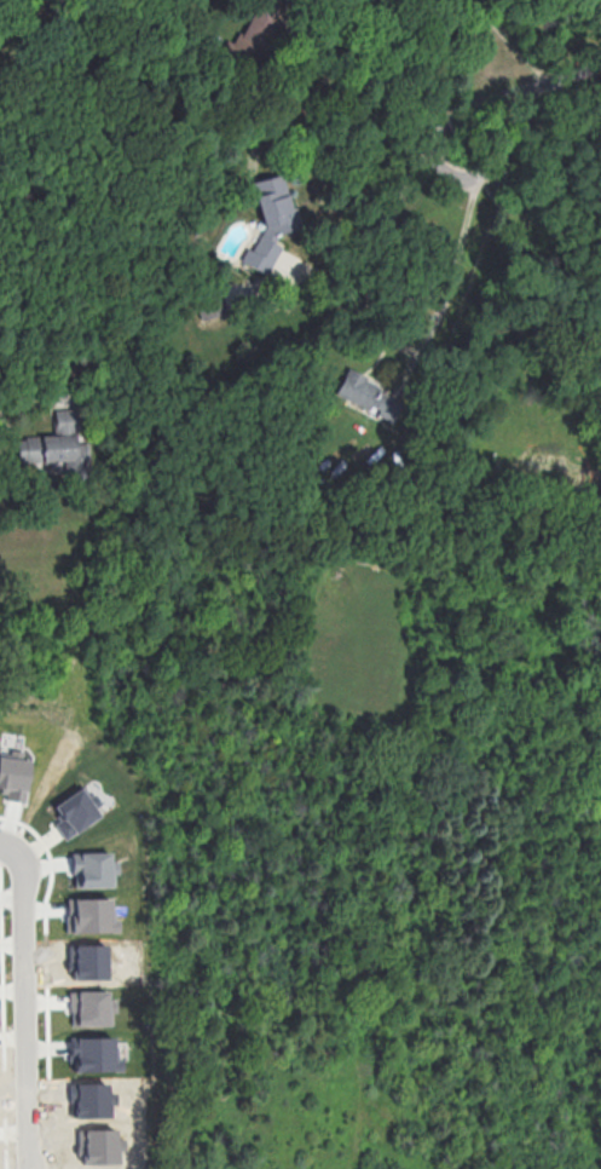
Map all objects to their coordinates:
road: (329, 17)
building: (253, 35)
road: (294, 36)
road: (513, 42)
road: (571, 77)
road: (389, 86)
road: (452, 119)
building: (273, 203)
road: (381, 234)
building: (259, 253)
road: (457, 269)
building: (371, 392)
road: (2, 401)
building: (57, 440)
road: (593, 478)
building: (15, 774)
building: (76, 811)
building: (94, 869)
building: (91, 915)
building: (89, 961)
road: (25, 1002)
building: (88, 1007)
building: (94, 1054)
road: (330, 1096)
building: (88, 1099)
road: (572, 1115)
building: (98, 1146)

